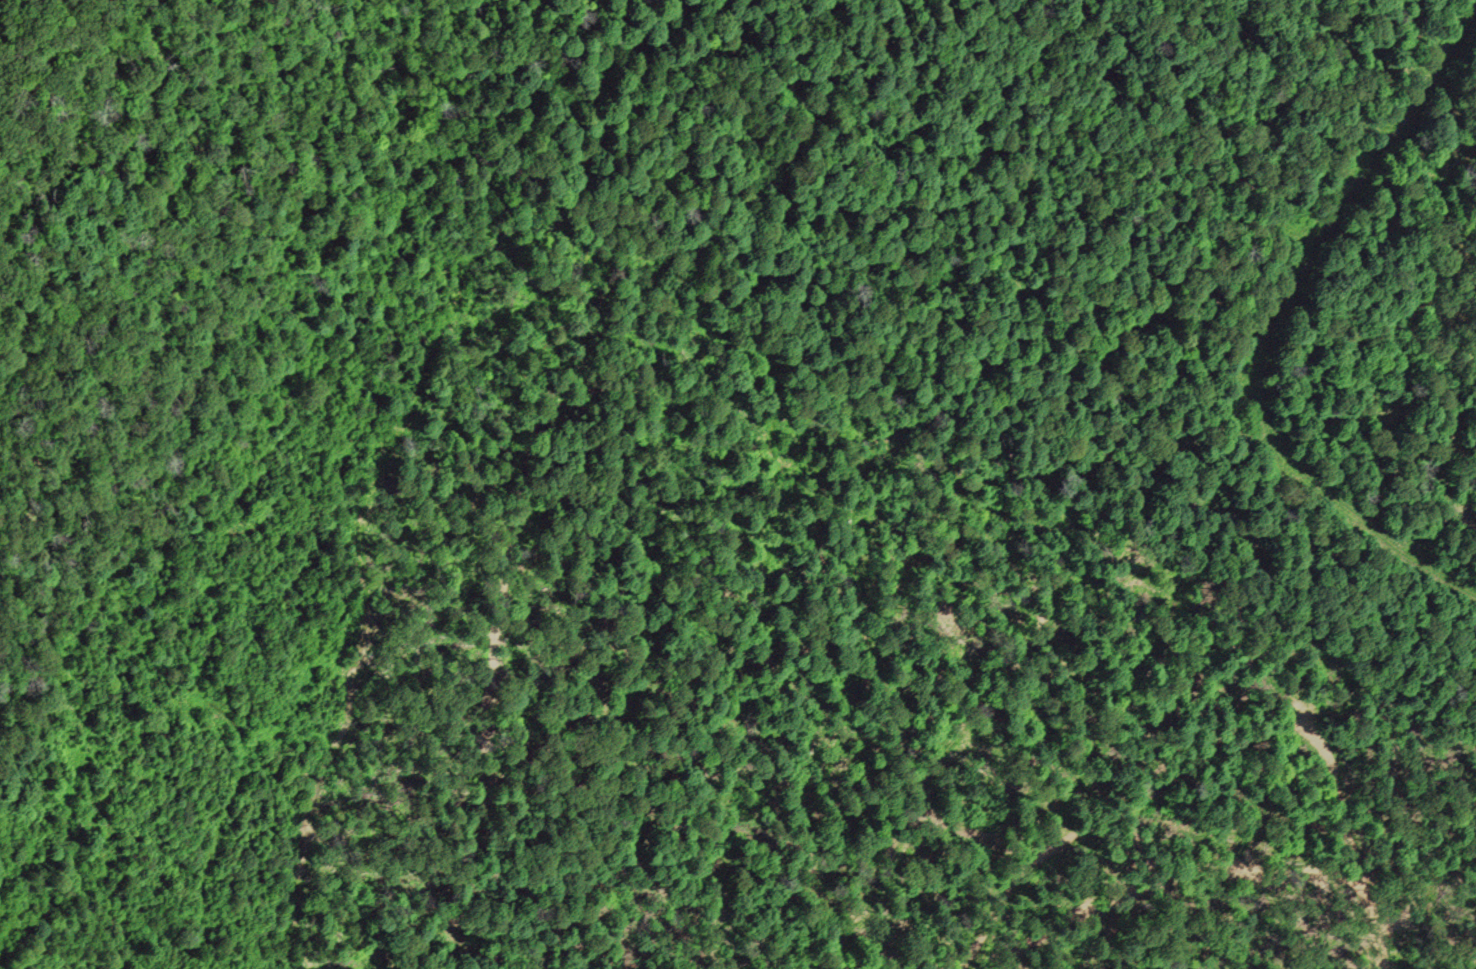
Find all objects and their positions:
road: (1228, 482)

